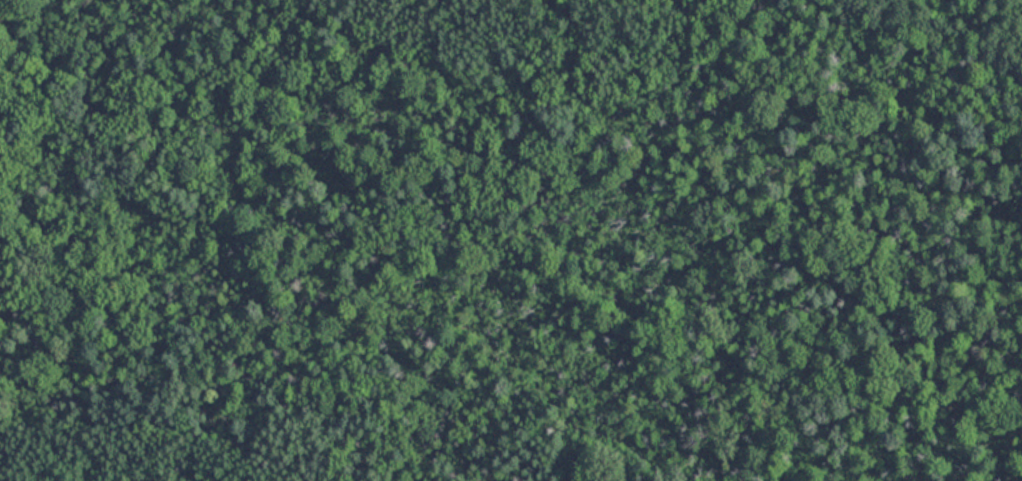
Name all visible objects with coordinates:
park: (511, 240)

